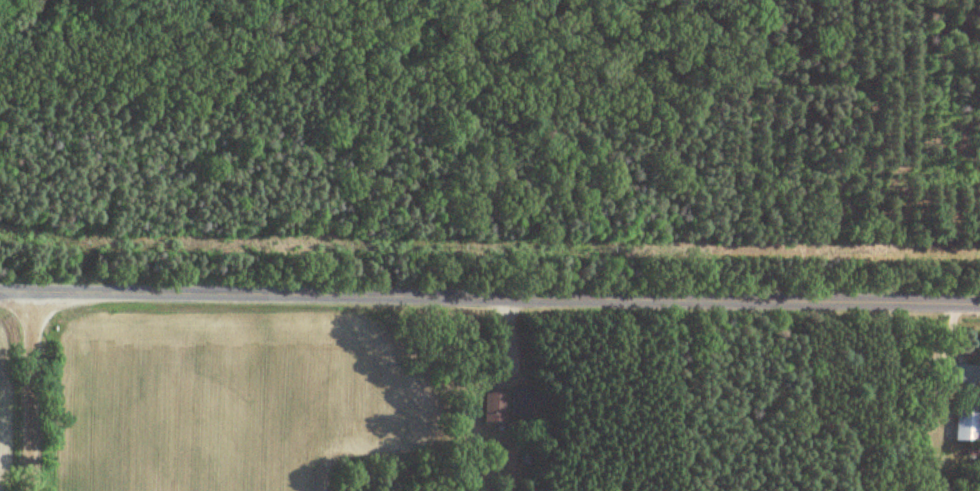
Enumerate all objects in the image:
road: (489, 296)
building: (965, 374)
road: (36, 391)
building: (495, 408)
building: (968, 424)

